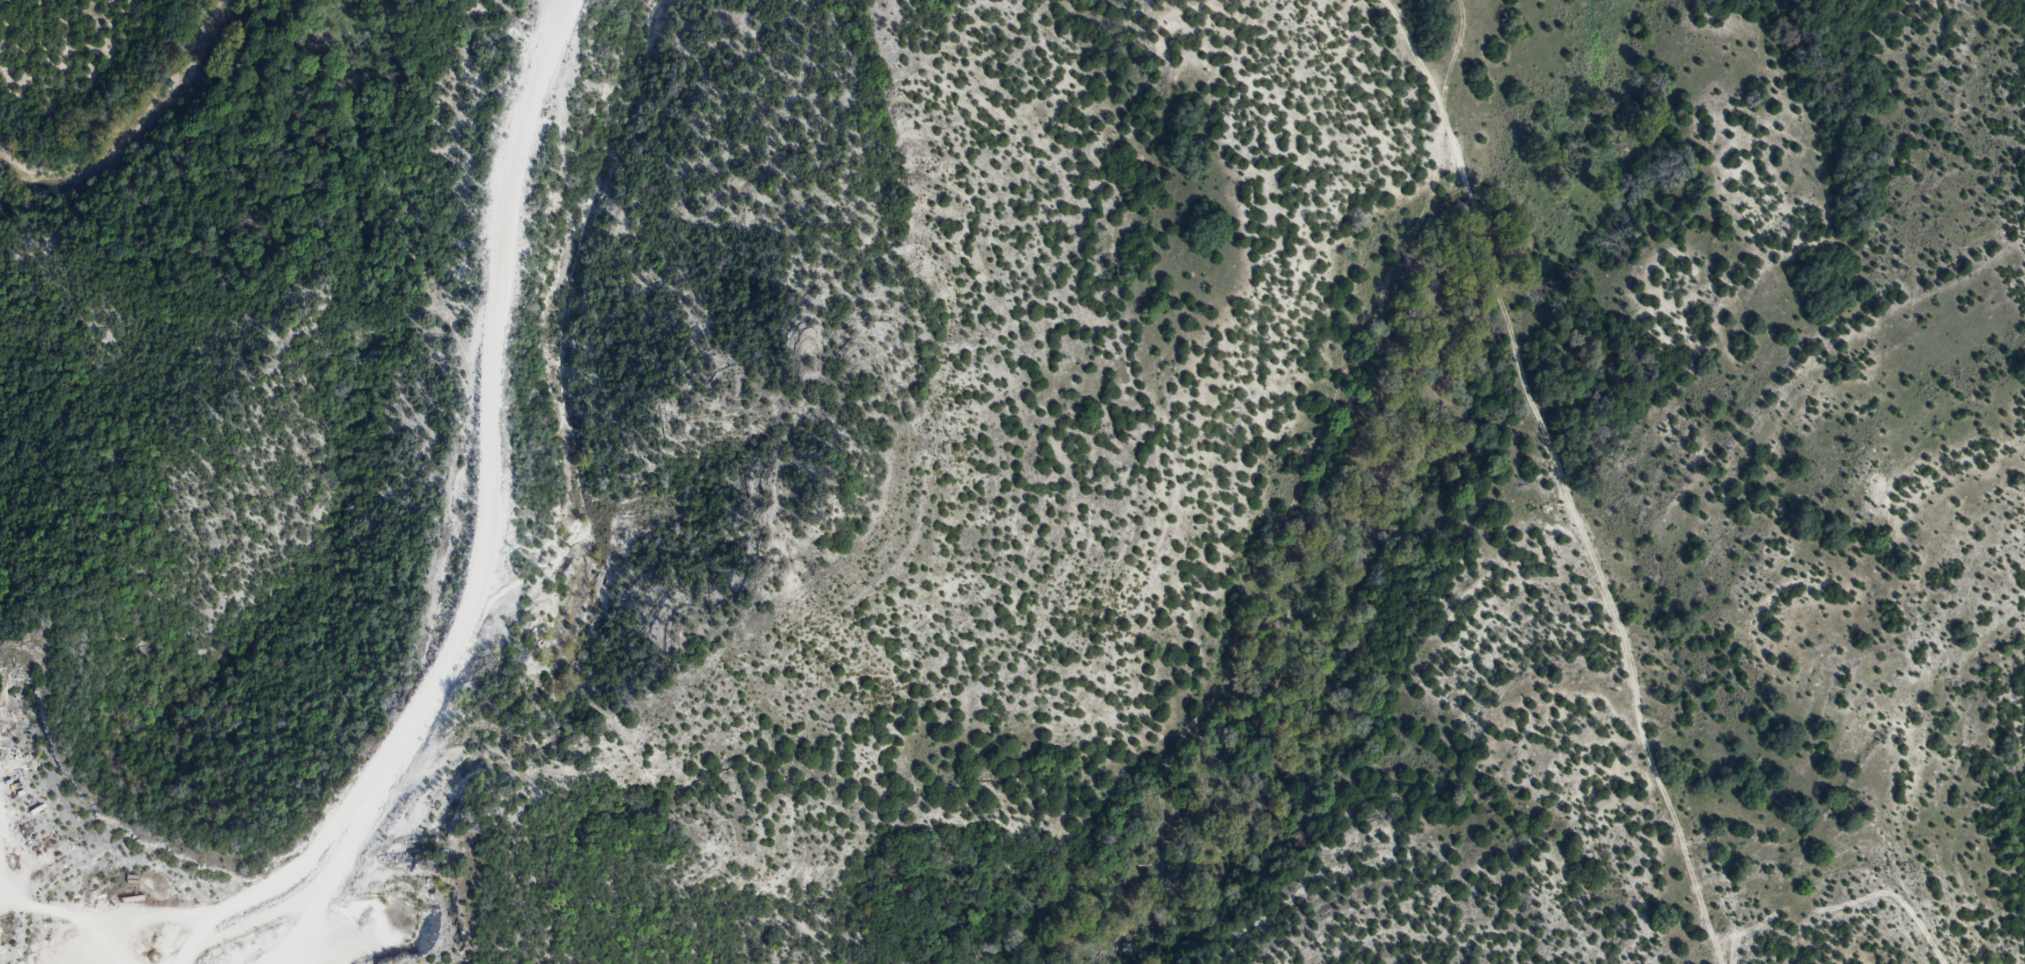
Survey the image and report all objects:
road: (492, 408)
road: (1563, 477)
road: (339, 816)
quarry: (187, 869)

